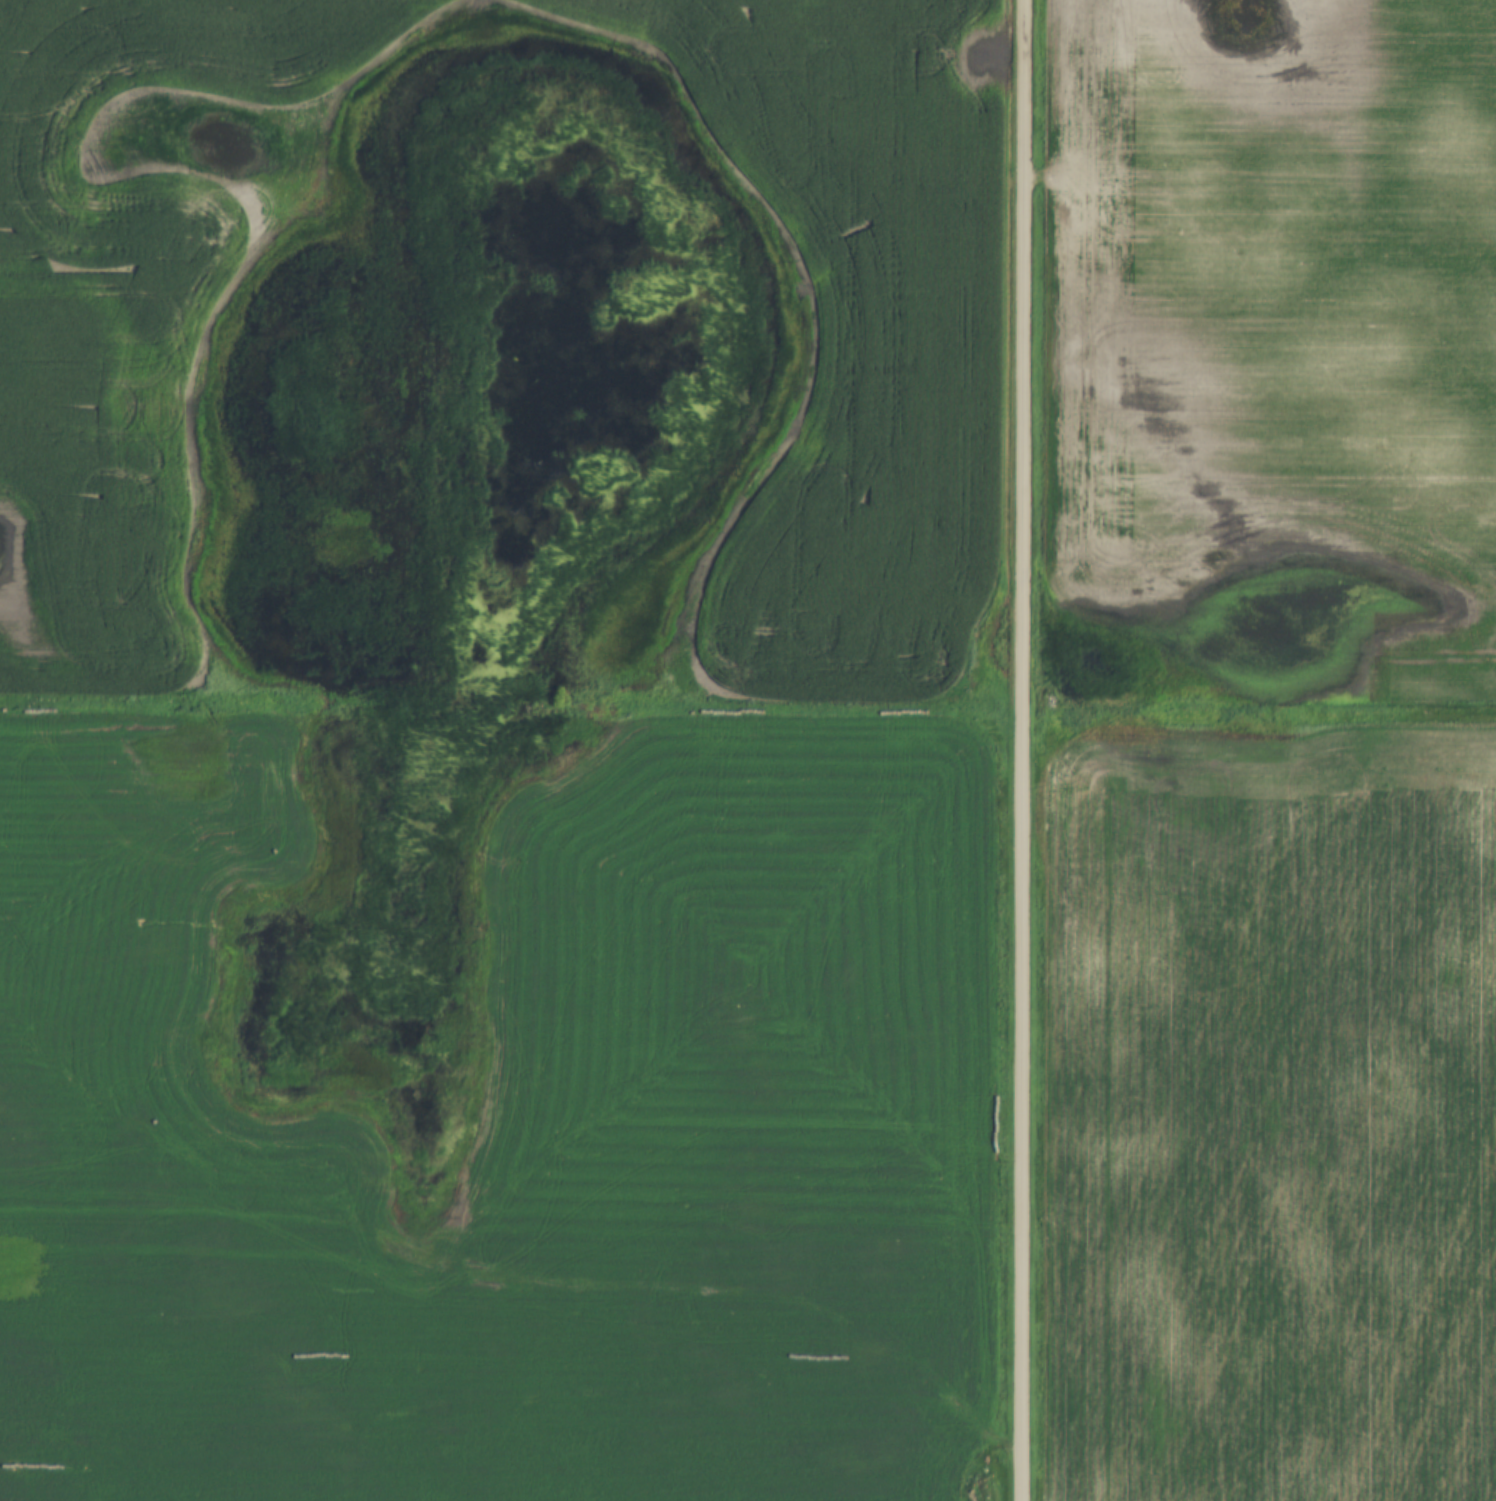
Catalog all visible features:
road: (1260, 727)
road: (1024, 750)

